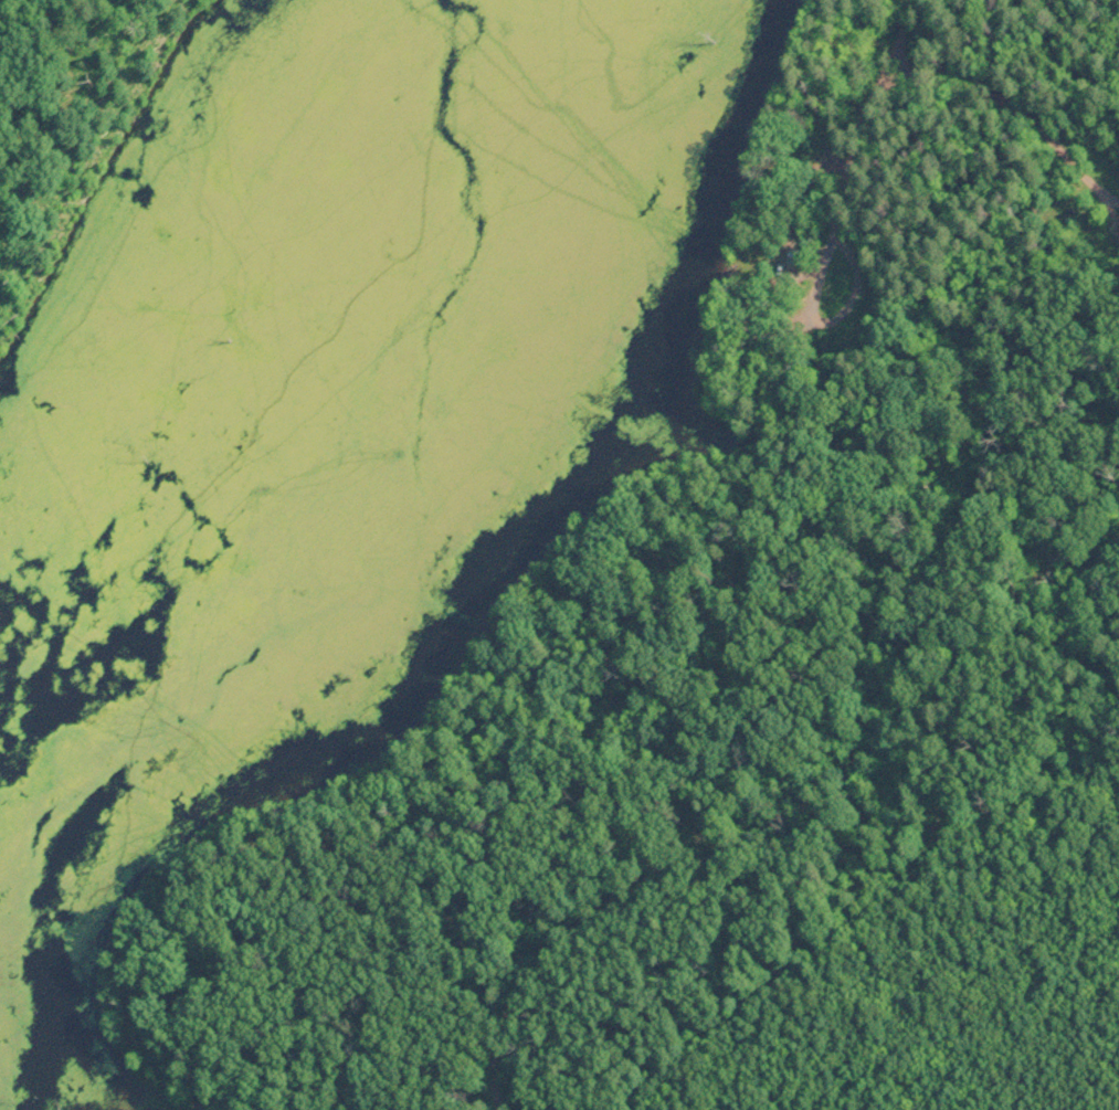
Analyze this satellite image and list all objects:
road: (933, 89)
road: (788, 315)
road: (784, 826)

